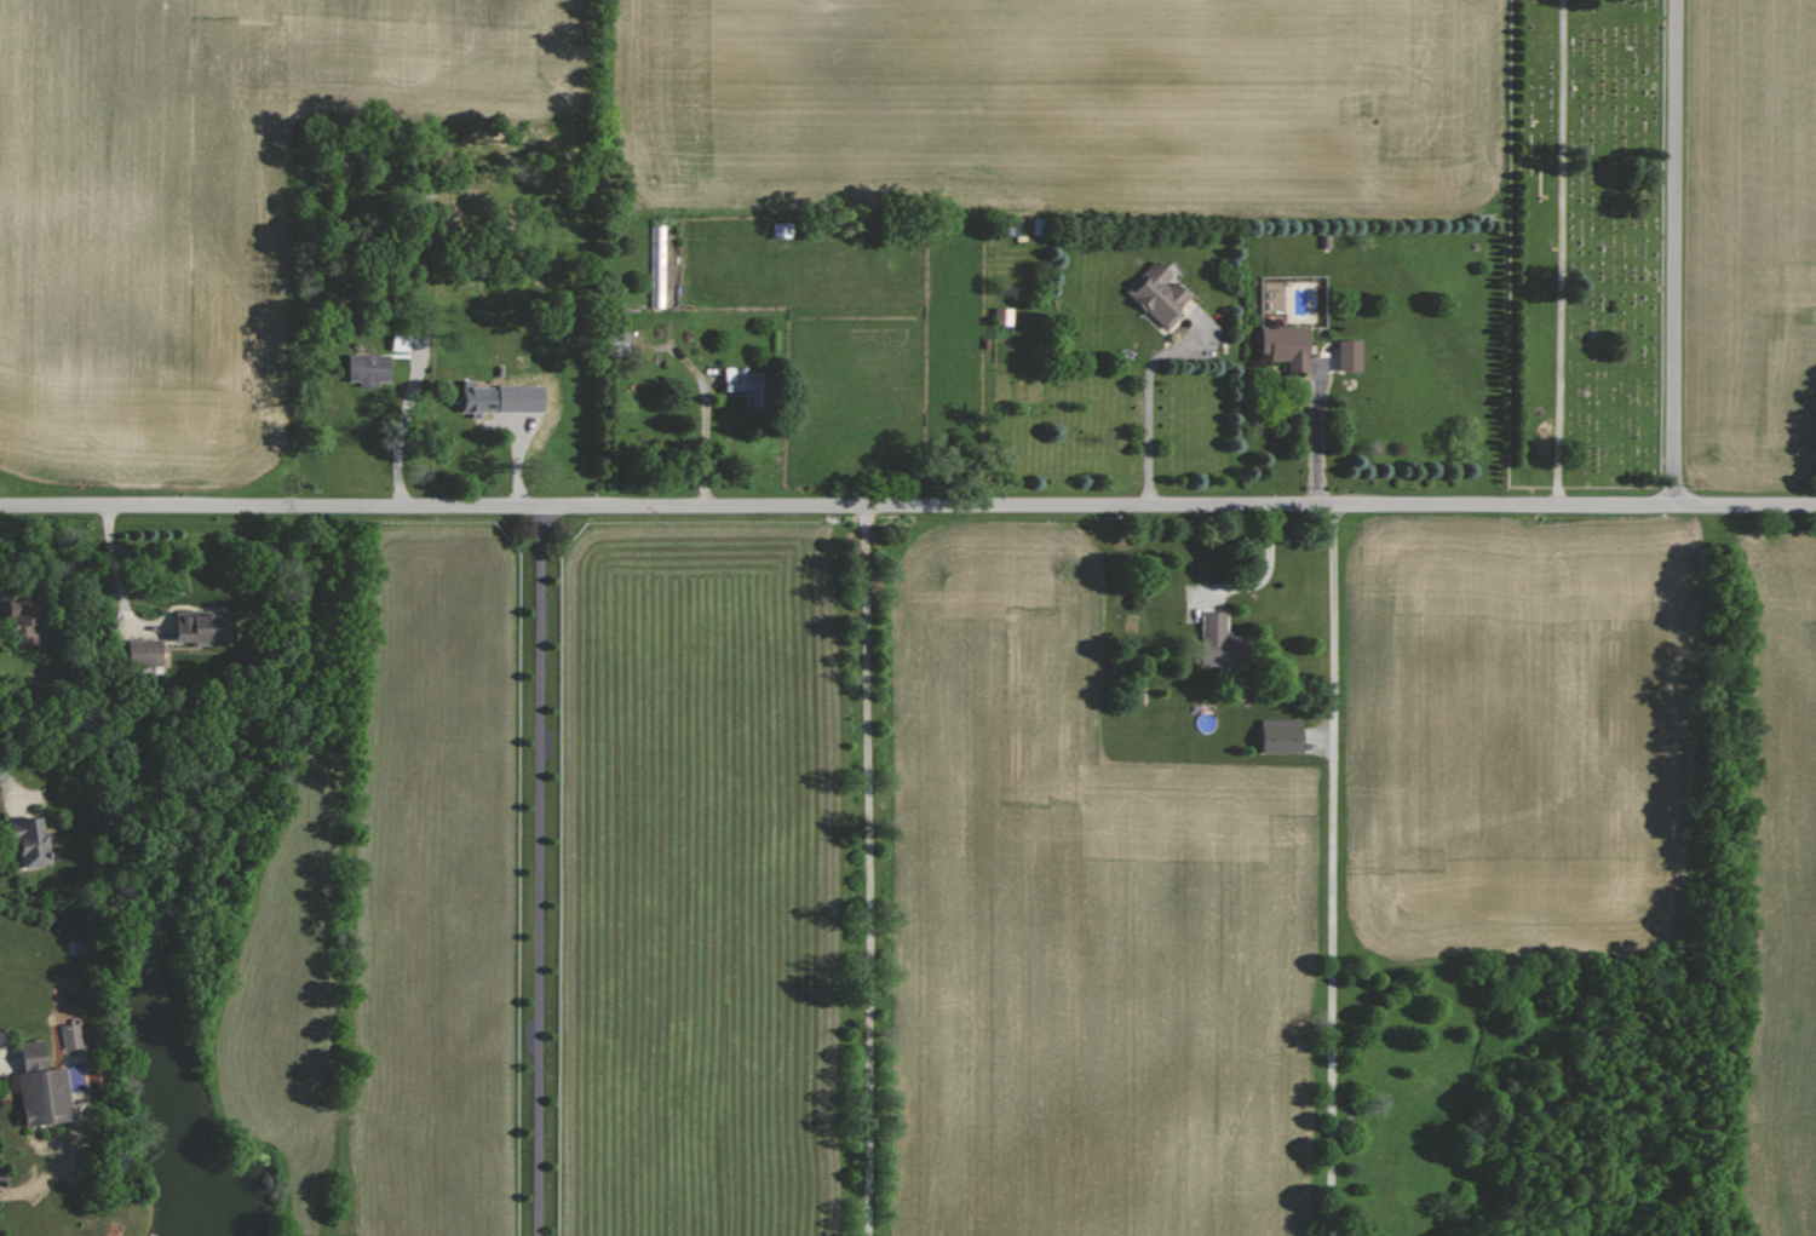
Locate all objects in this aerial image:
building: (785, 229)
road: (1563, 252)
road: (1674, 252)
building: (659, 266)
building: (1153, 295)
building: (999, 316)
building: (404, 341)
building: (1281, 346)
building: (1344, 355)
building: (373, 368)
building: (751, 385)
building: (506, 398)
road: (1147, 401)
road: (907, 505)
building: (27, 615)
building: (206, 626)
building: (1212, 640)
building: (149, 651)
building: (1272, 736)
building: (38, 840)
road: (1332, 869)
road: (869, 870)
building: (46, 1085)

